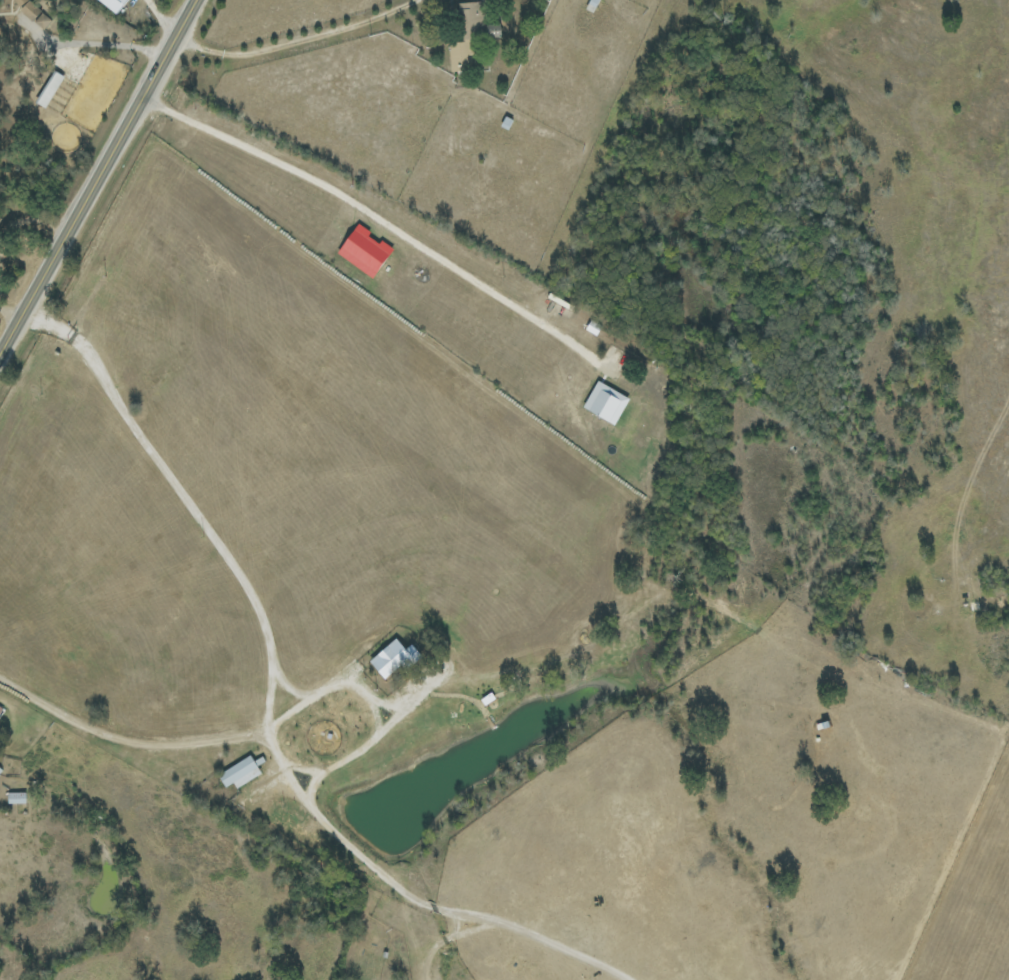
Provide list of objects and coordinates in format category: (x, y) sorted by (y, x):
building: (114, 4)
building: (32, 12)
road: (159, 17)
building: (469, 37)
road: (292, 43)
road: (93, 45)
building: (49, 89)
road: (94, 173)
road: (378, 221)
building: (365, 252)
building: (606, 403)
building: (393, 659)
building: (1, 710)
road: (382, 713)
building: (240, 773)
building: (16, 798)
road: (305, 806)

